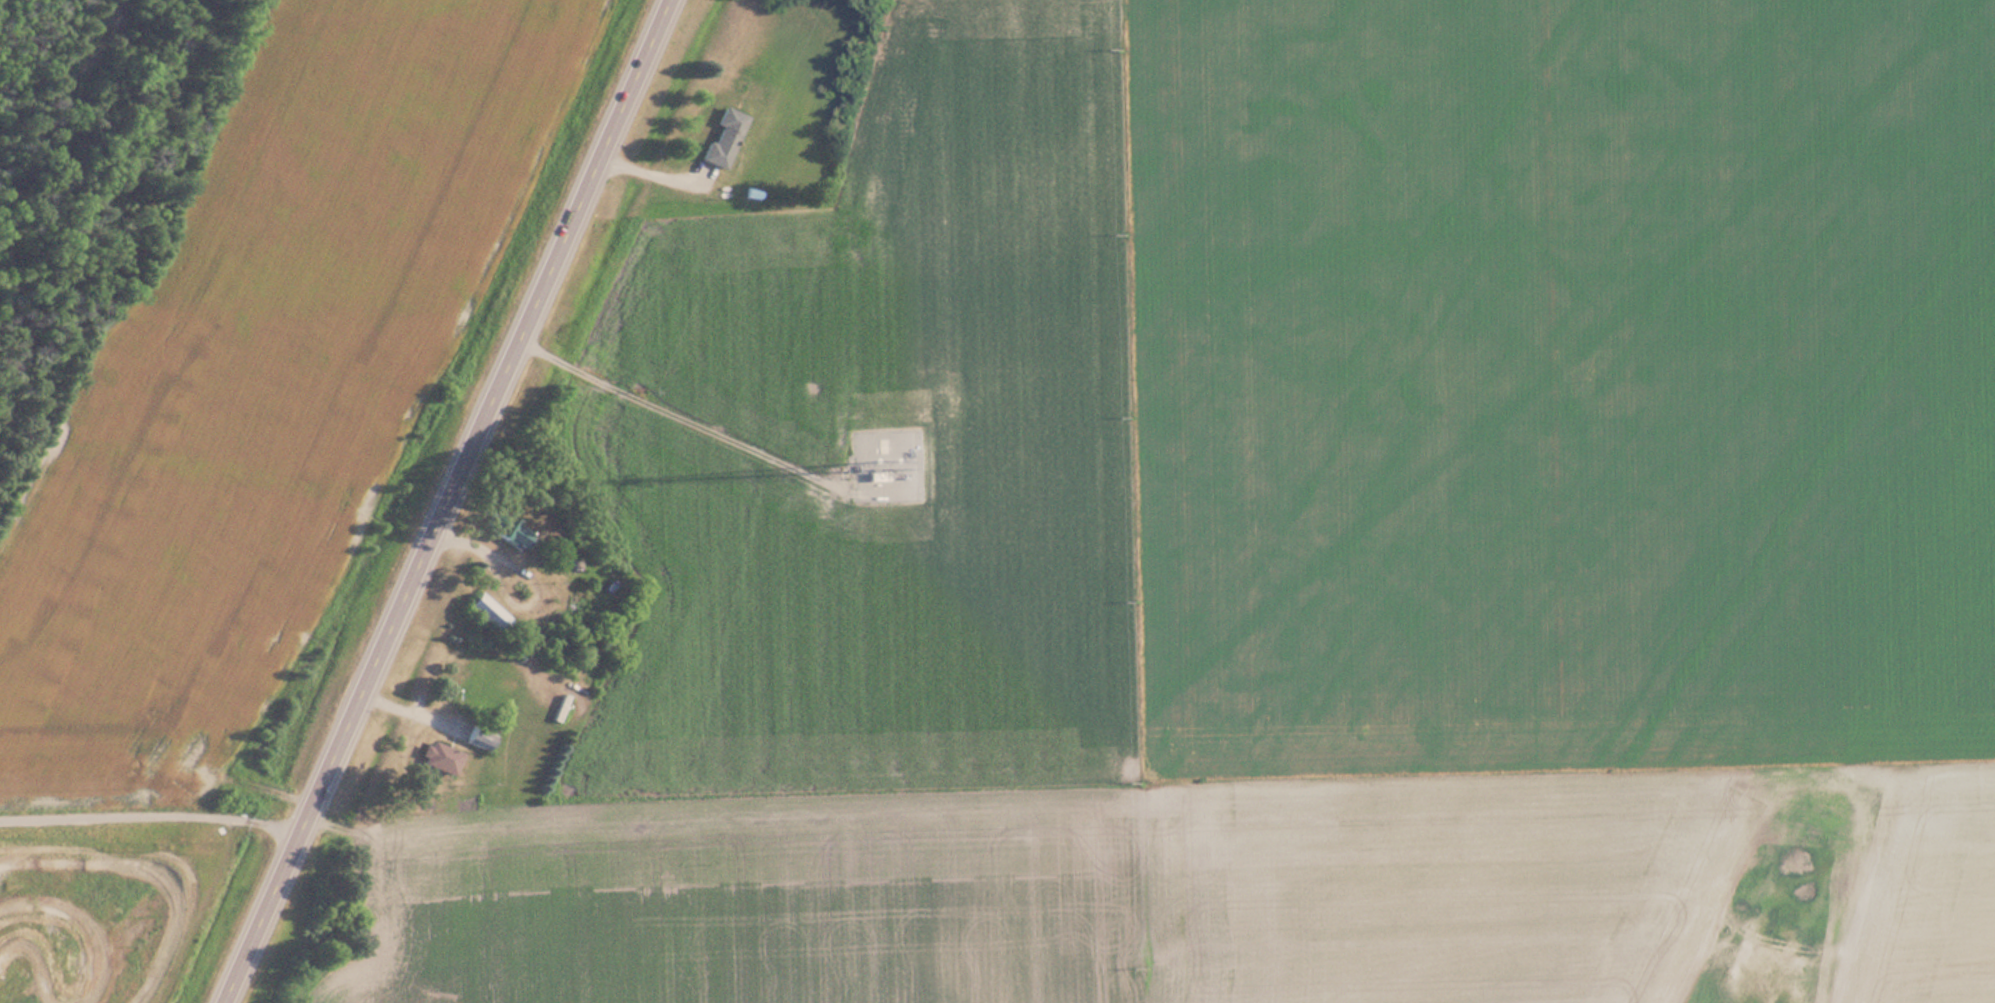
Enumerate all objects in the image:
building: (722, 138)
road: (447, 501)
building: (485, 610)
building: (559, 707)
building: (476, 738)
building: (439, 757)

